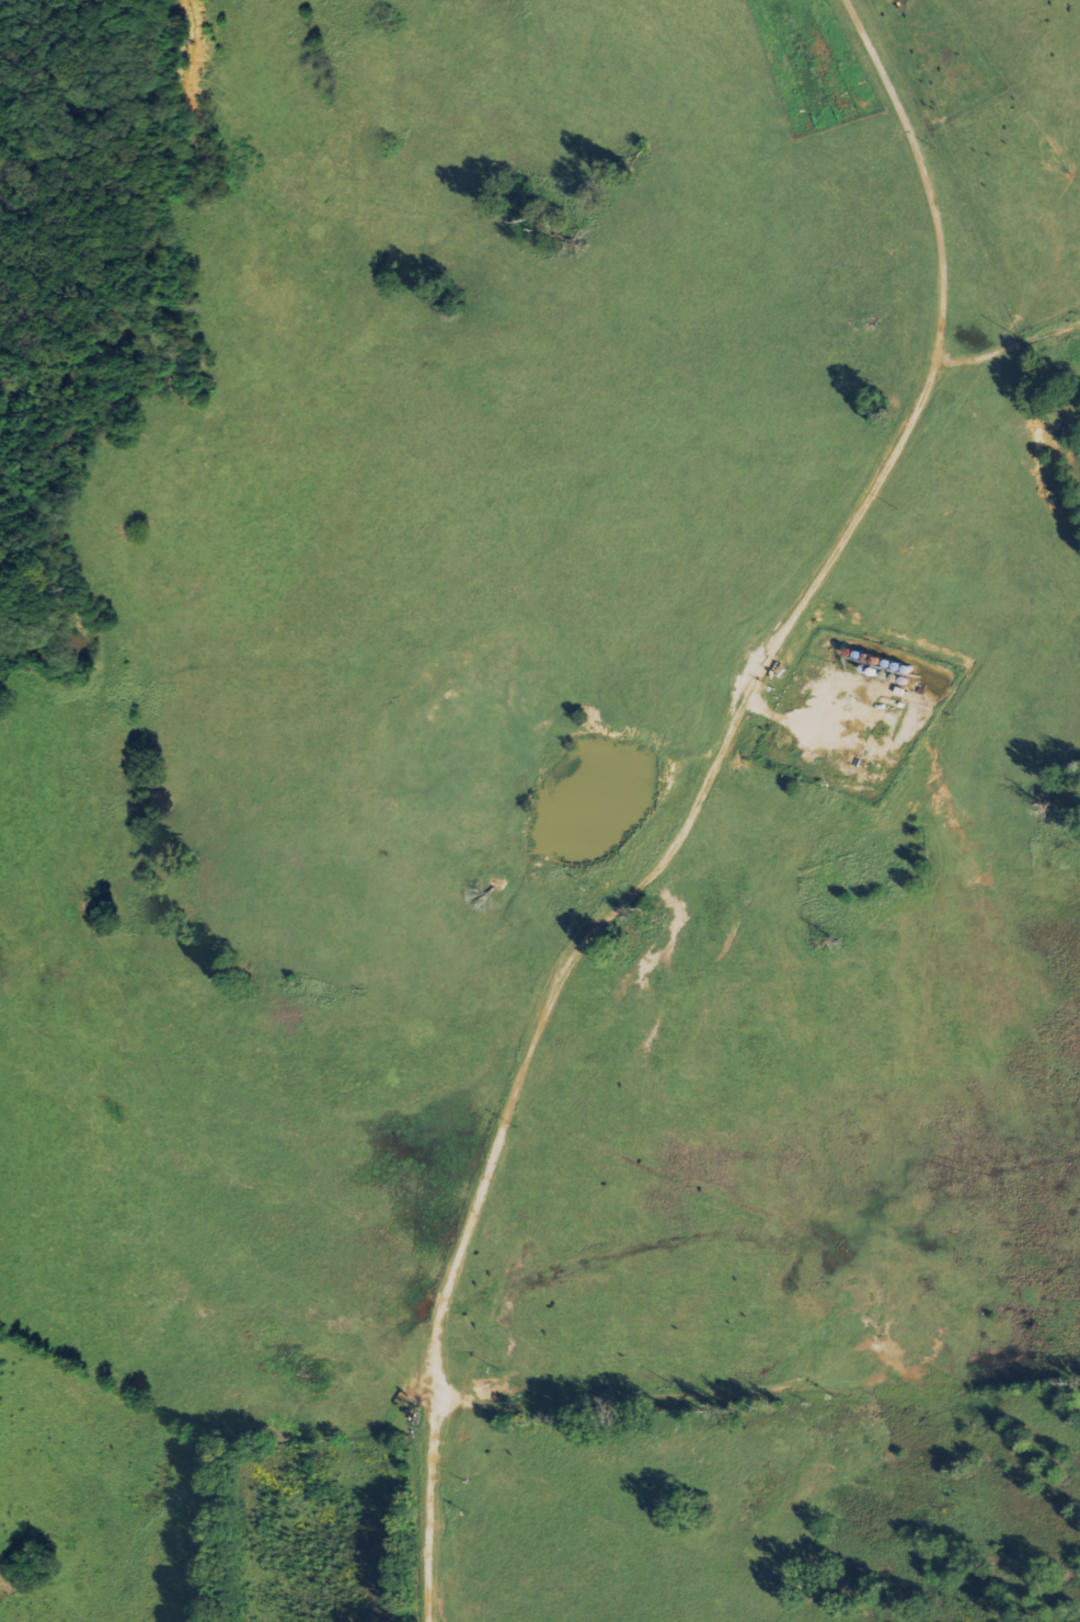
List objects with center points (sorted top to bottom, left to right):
road: (881, 514)

